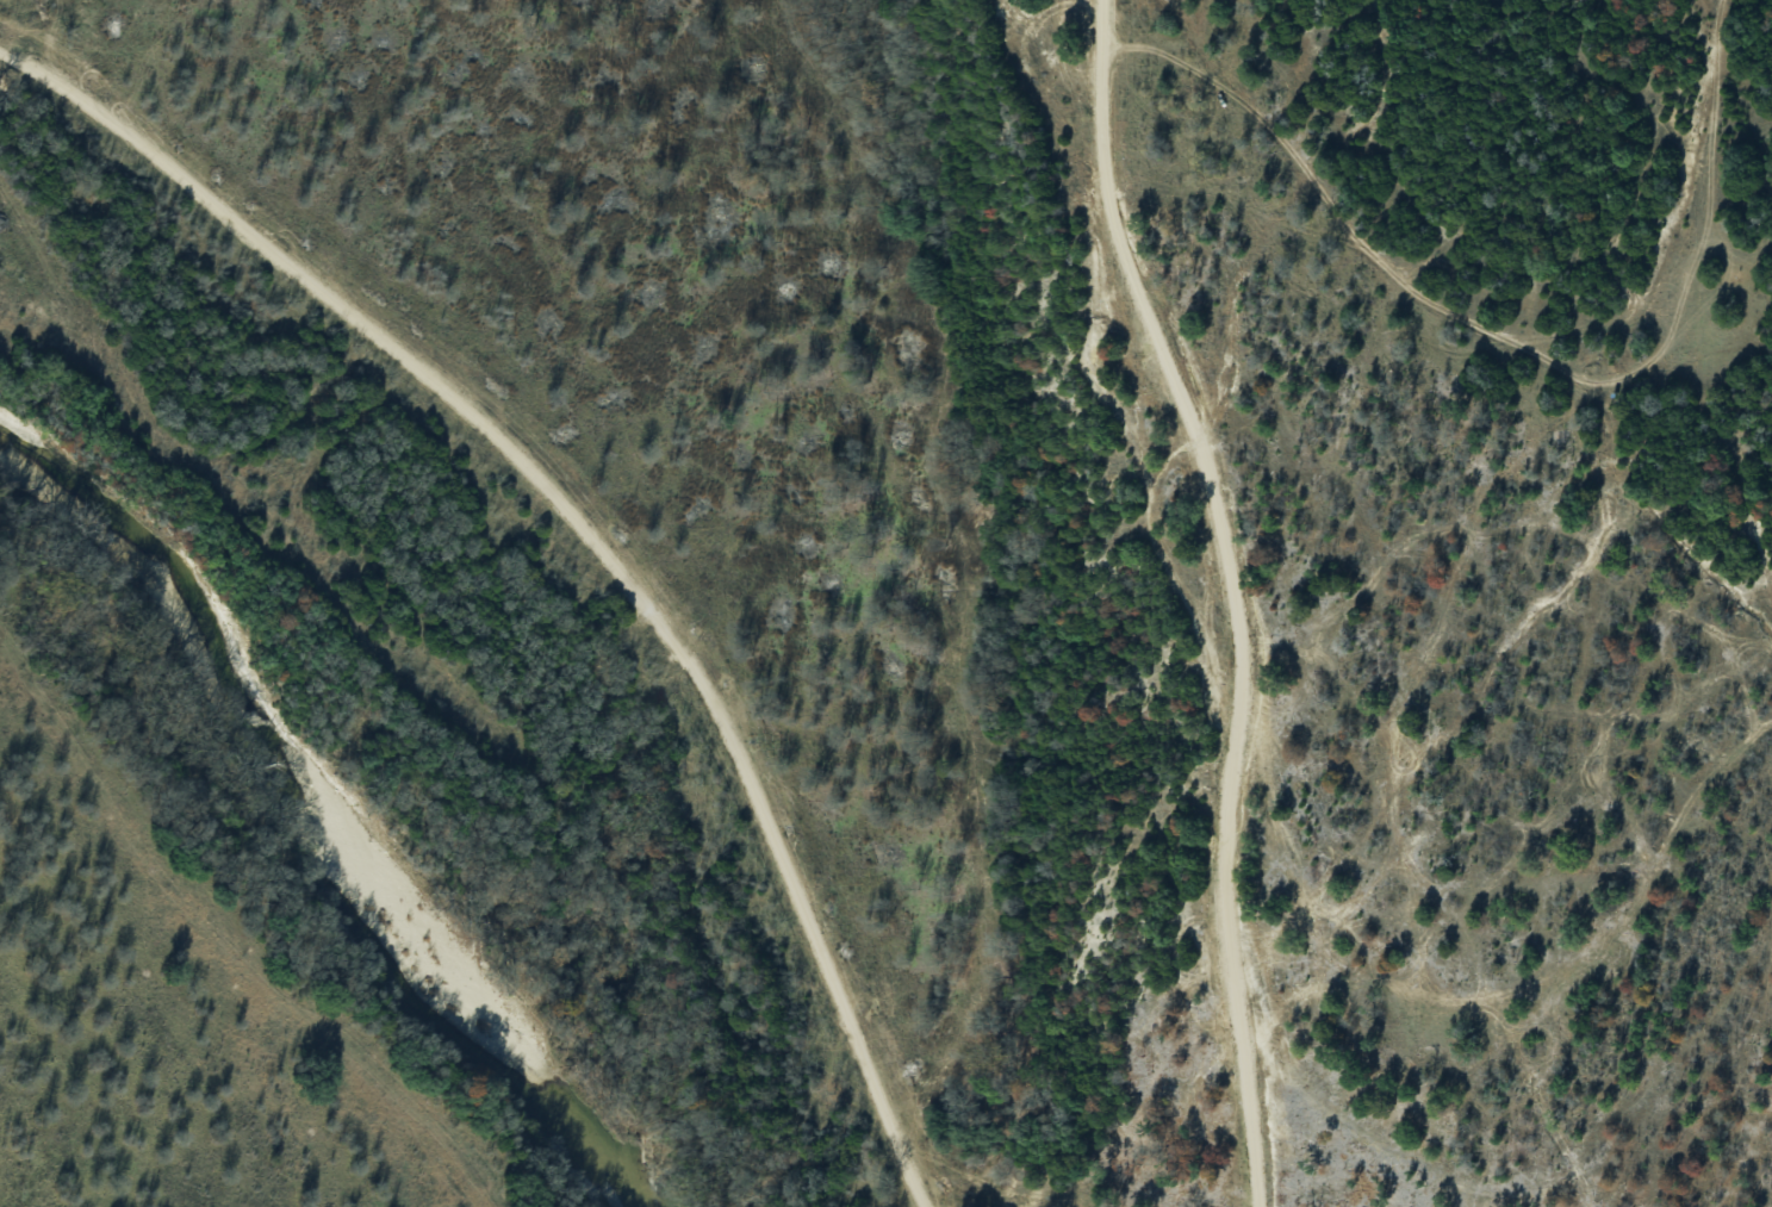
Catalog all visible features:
road: (589, 528)
road: (1232, 593)
river: (309, 840)

